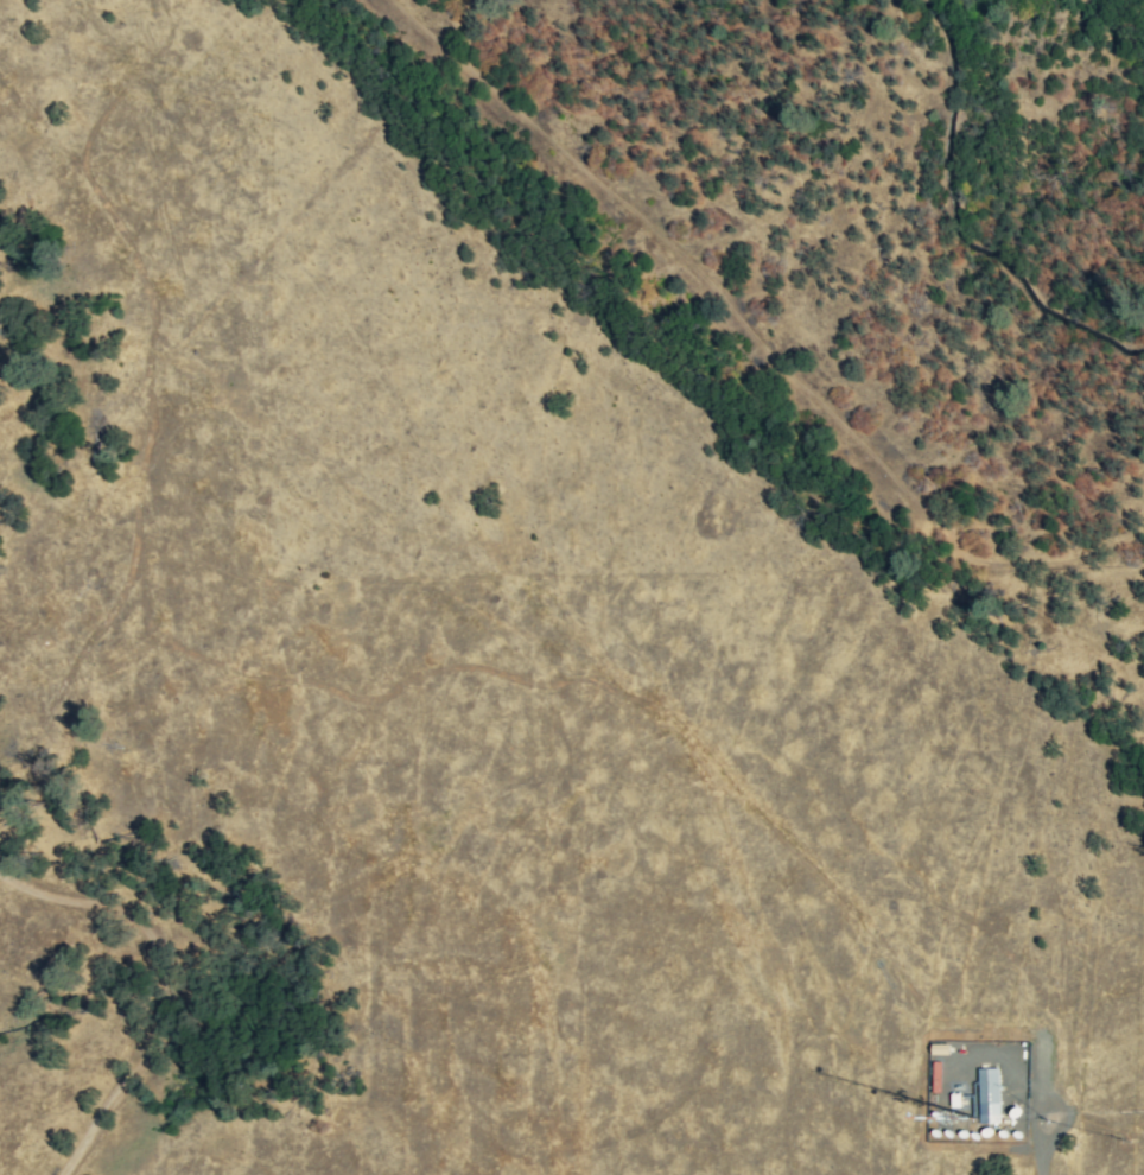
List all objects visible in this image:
road: (170, 982)
building: (987, 1095)

